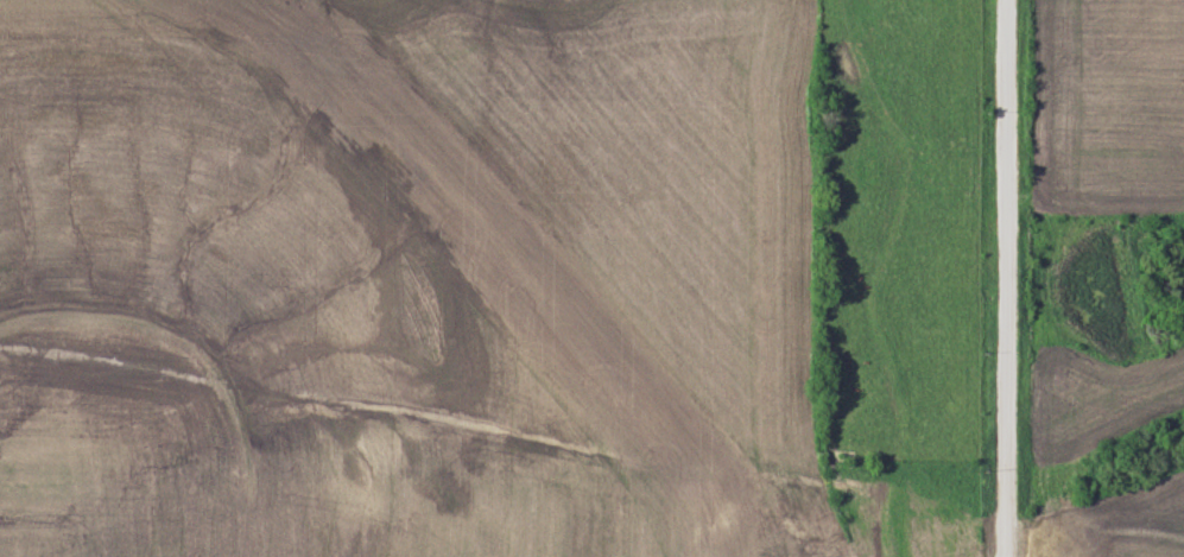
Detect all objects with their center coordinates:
road: (1001, 278)

